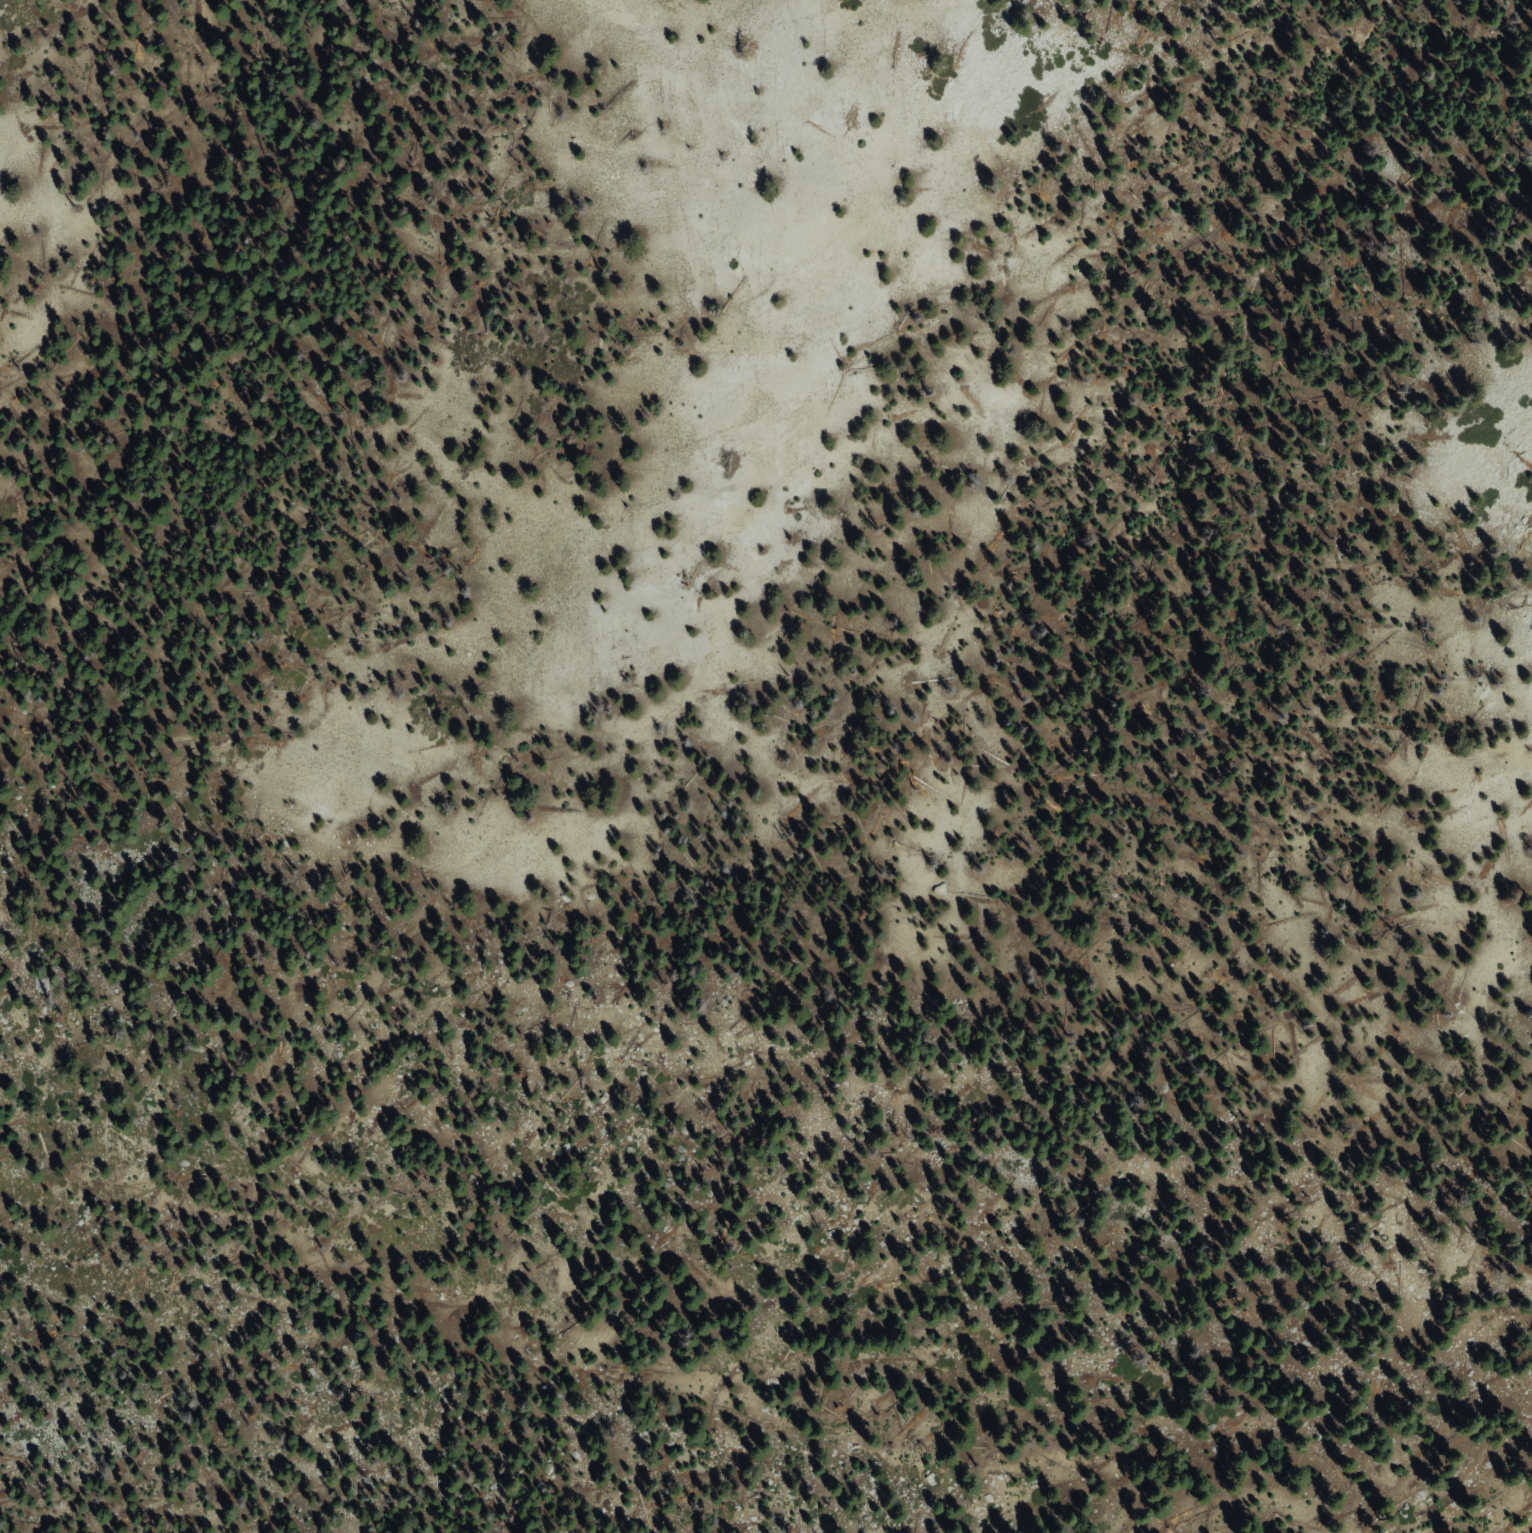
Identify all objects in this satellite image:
road: (197, 1520)

